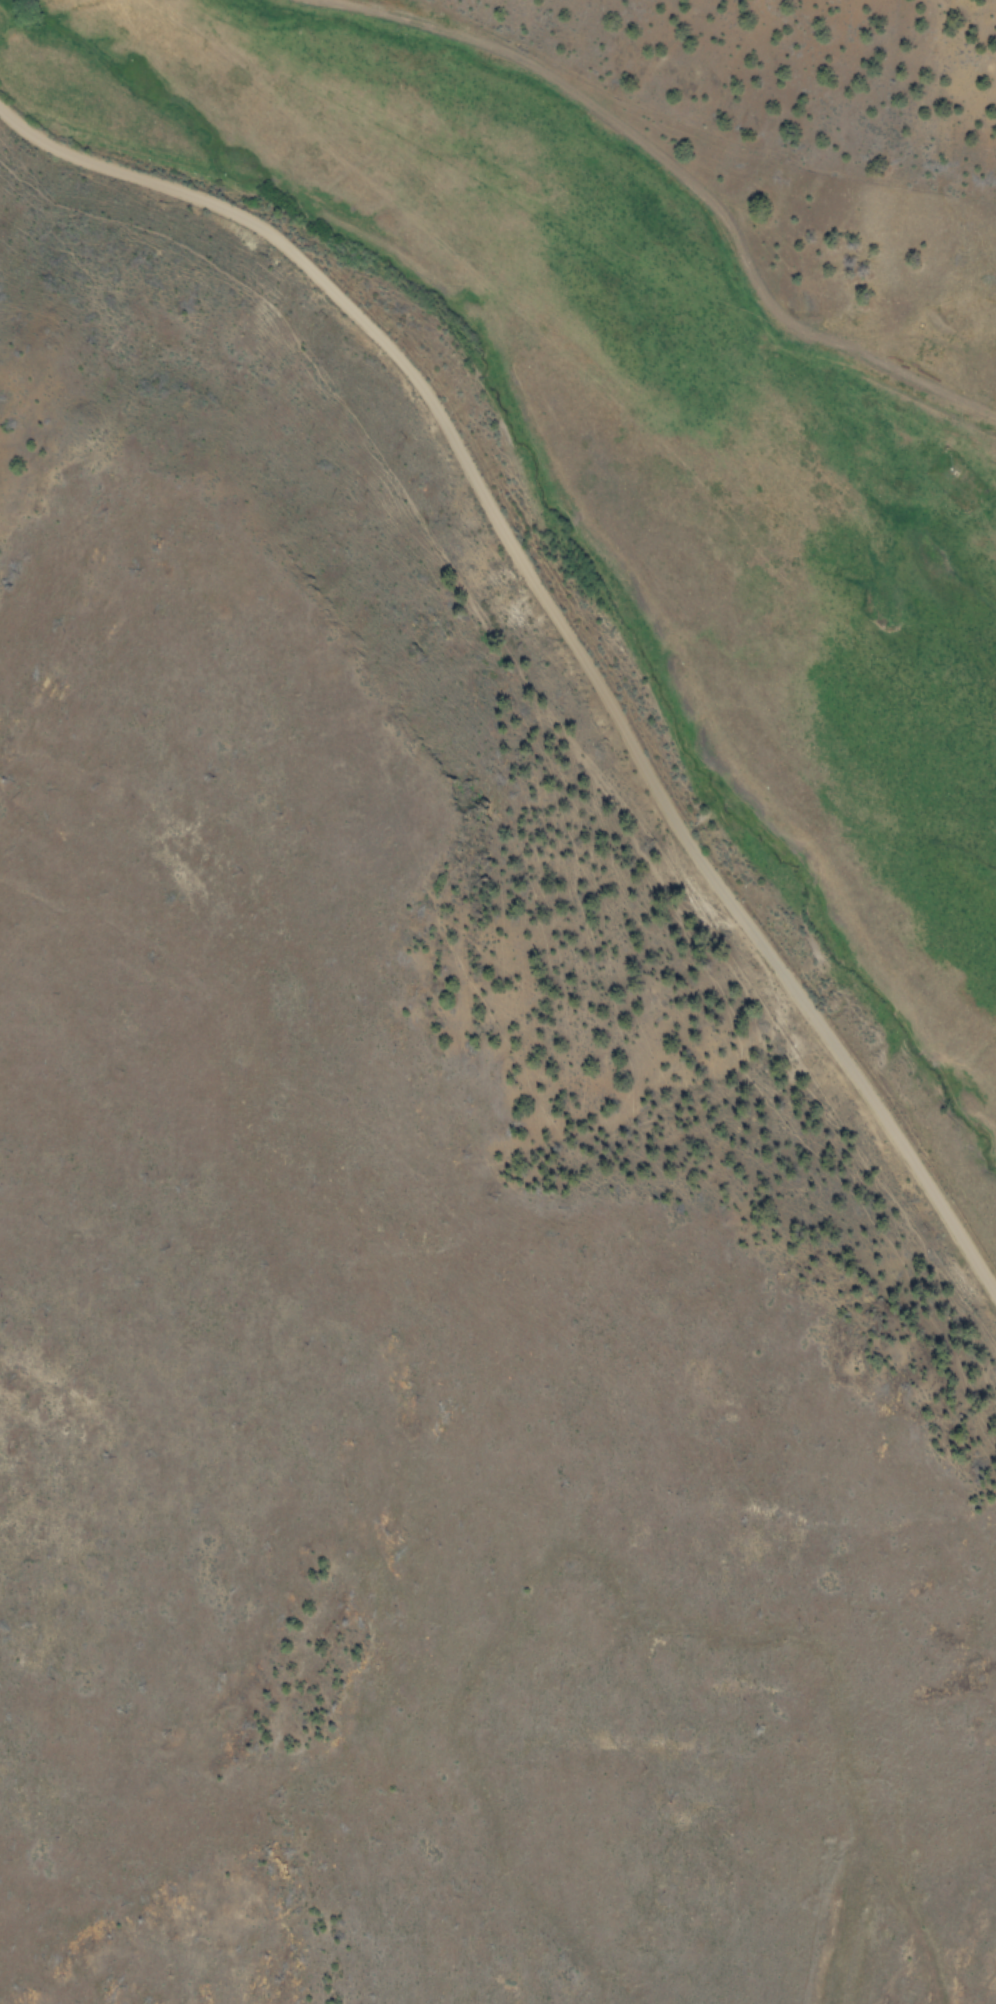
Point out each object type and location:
road: (726, 168)
road: (566, 588)

